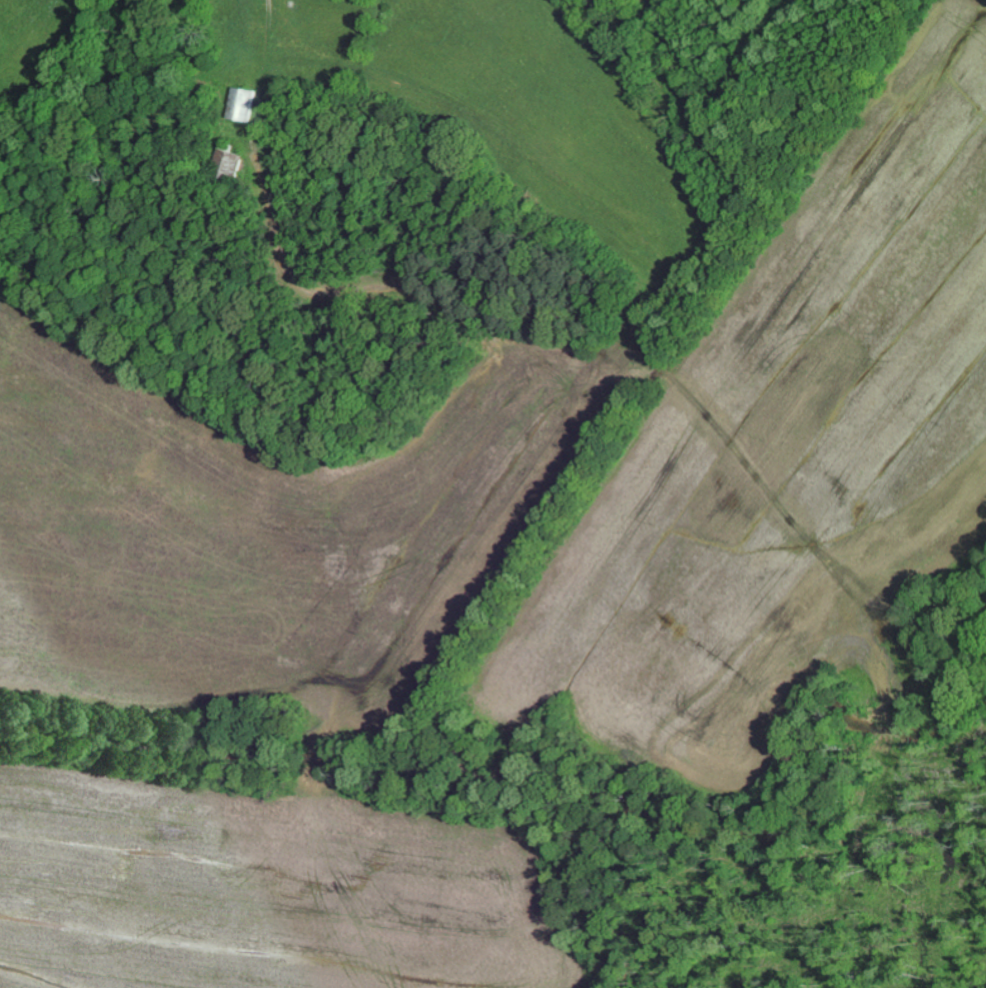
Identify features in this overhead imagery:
road: (313, 77)
building: (246, 104)

